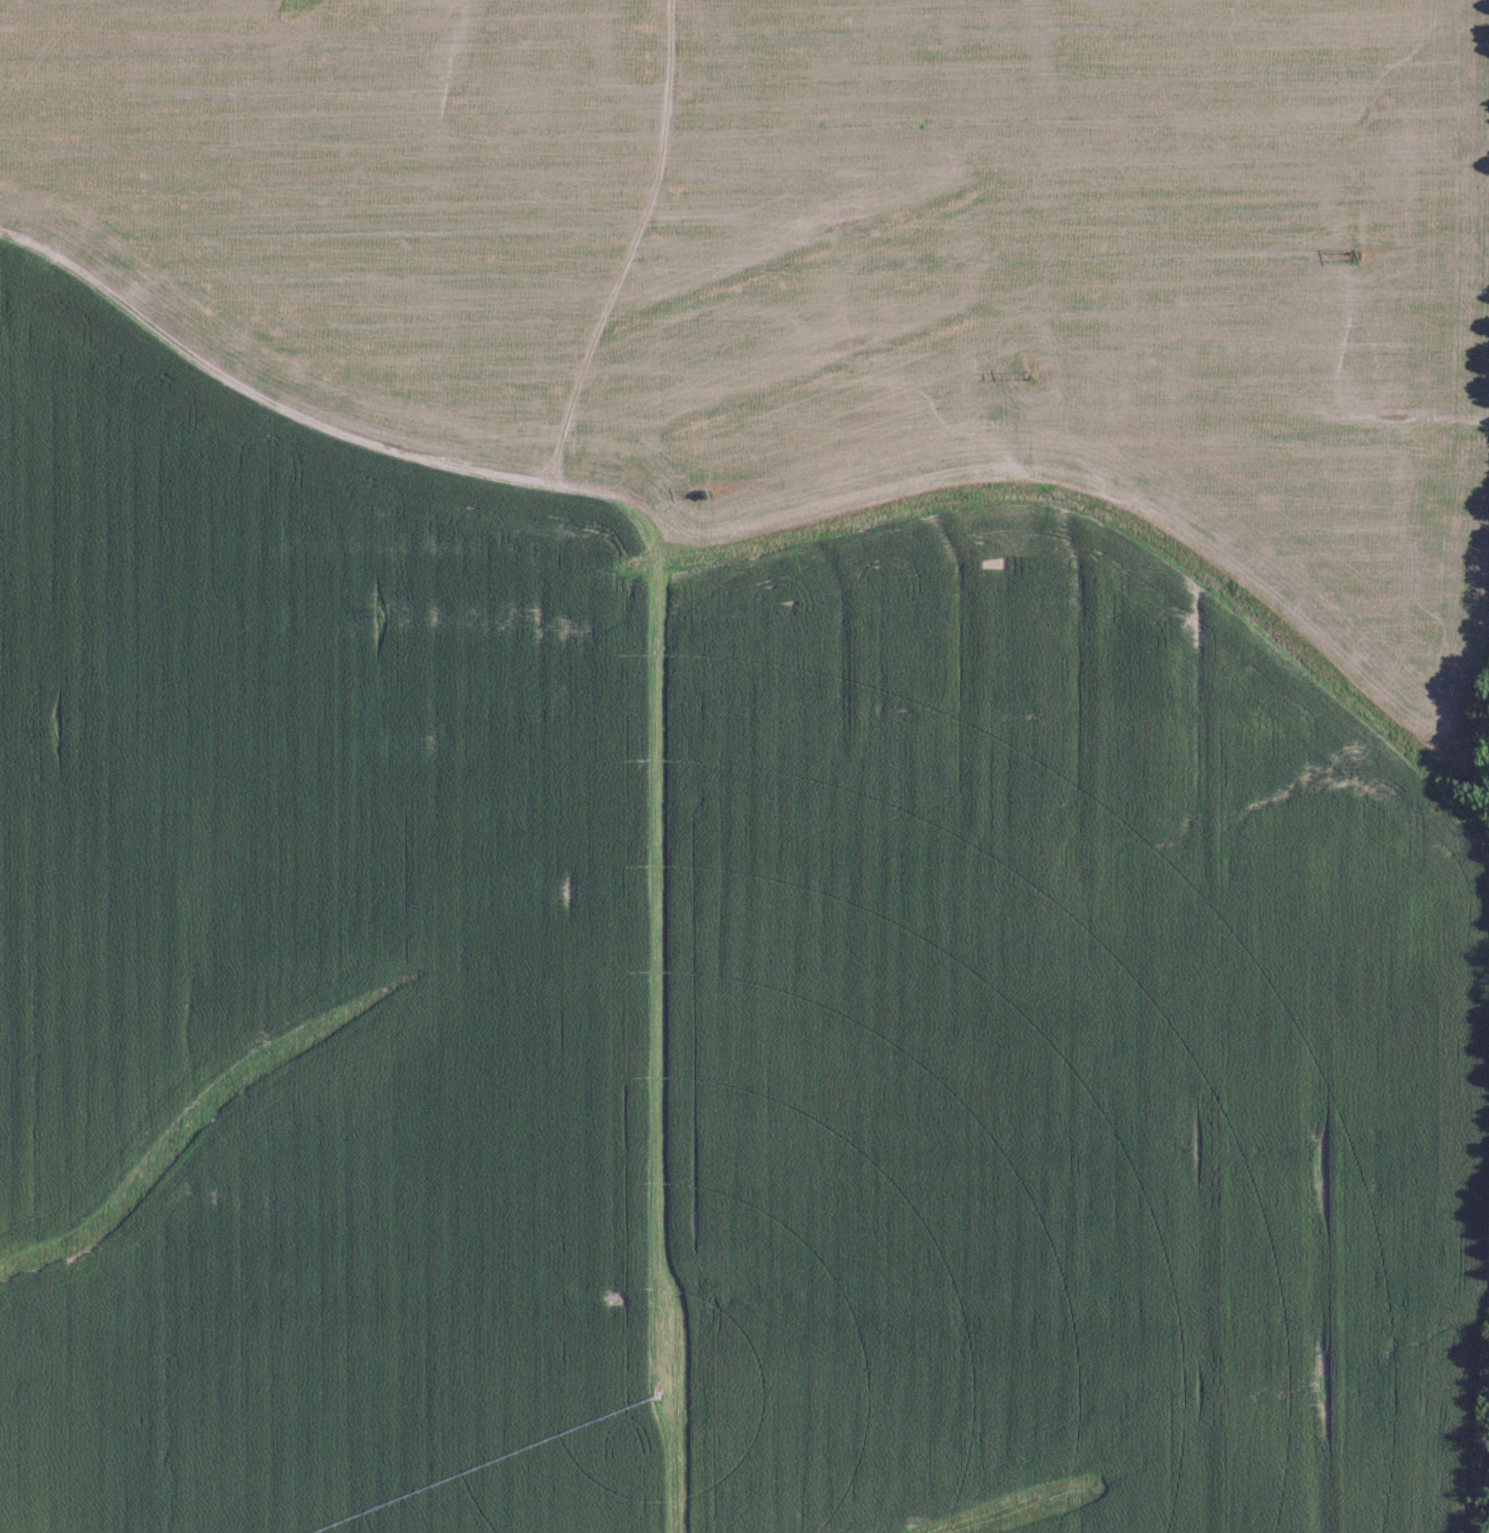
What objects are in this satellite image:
road: (308, 420)

